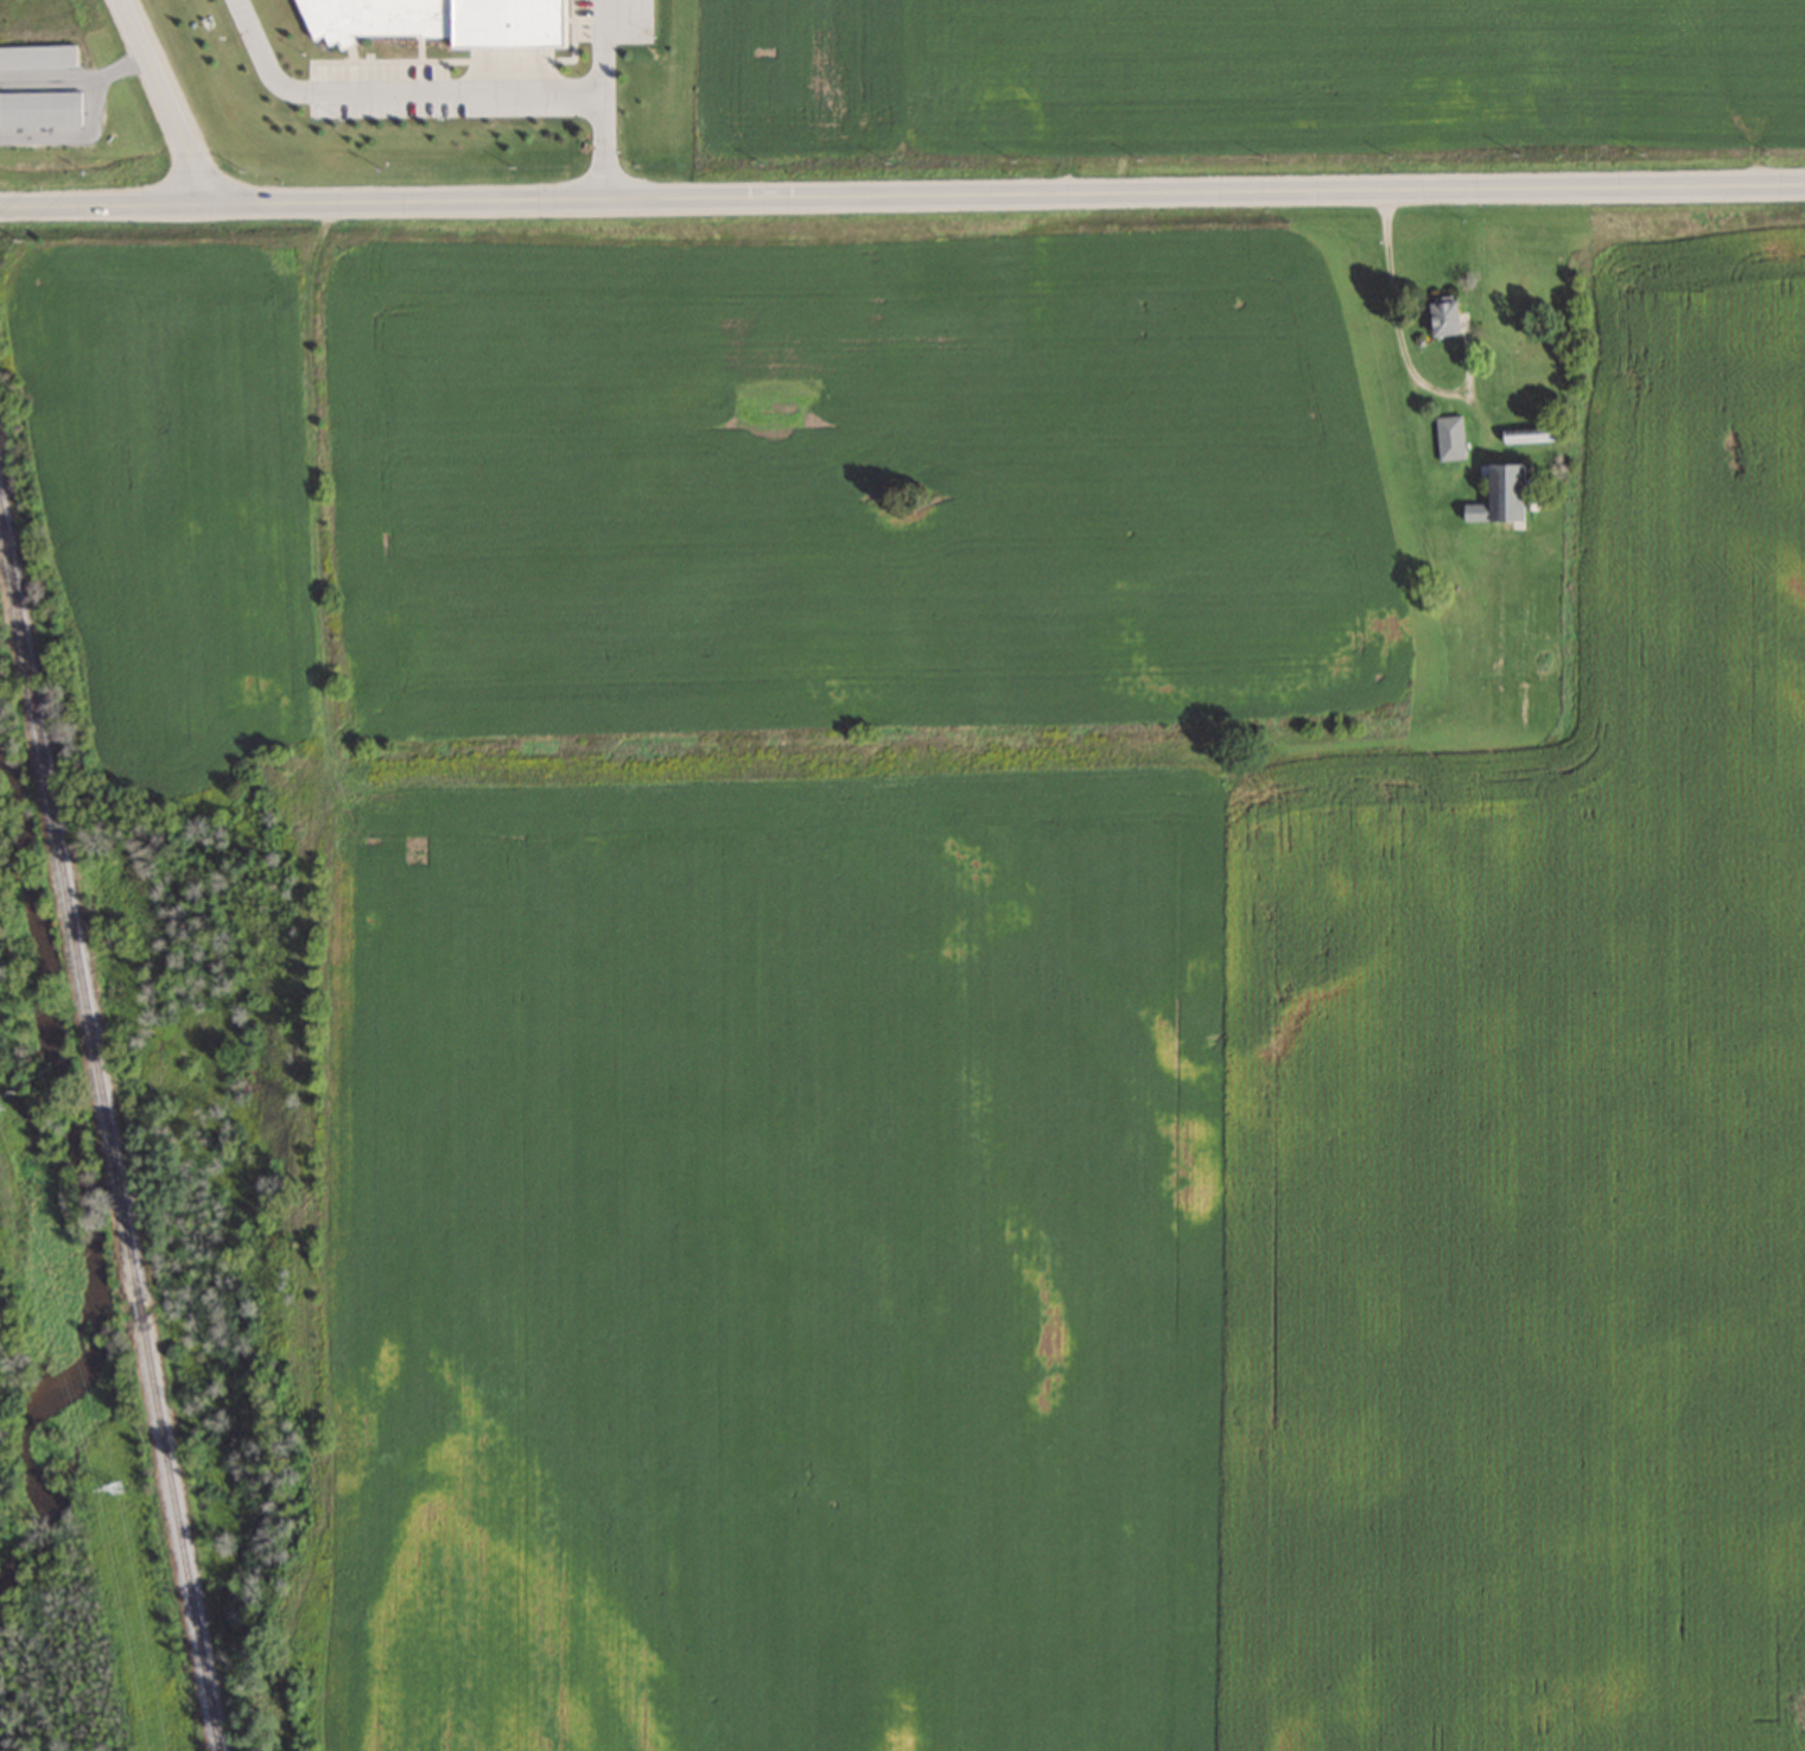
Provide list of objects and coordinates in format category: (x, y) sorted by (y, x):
building: (38, 56)
road: (394, 93)
road: (606, 100)
road: (167, 102)
building: (42, 108)
road: (902, 196)
building: (1438, 317)
building: (1449, 438)
building: (1495, 496)
river: (23, 841)
railway: (119, 1131)
river: (126, 1312)

